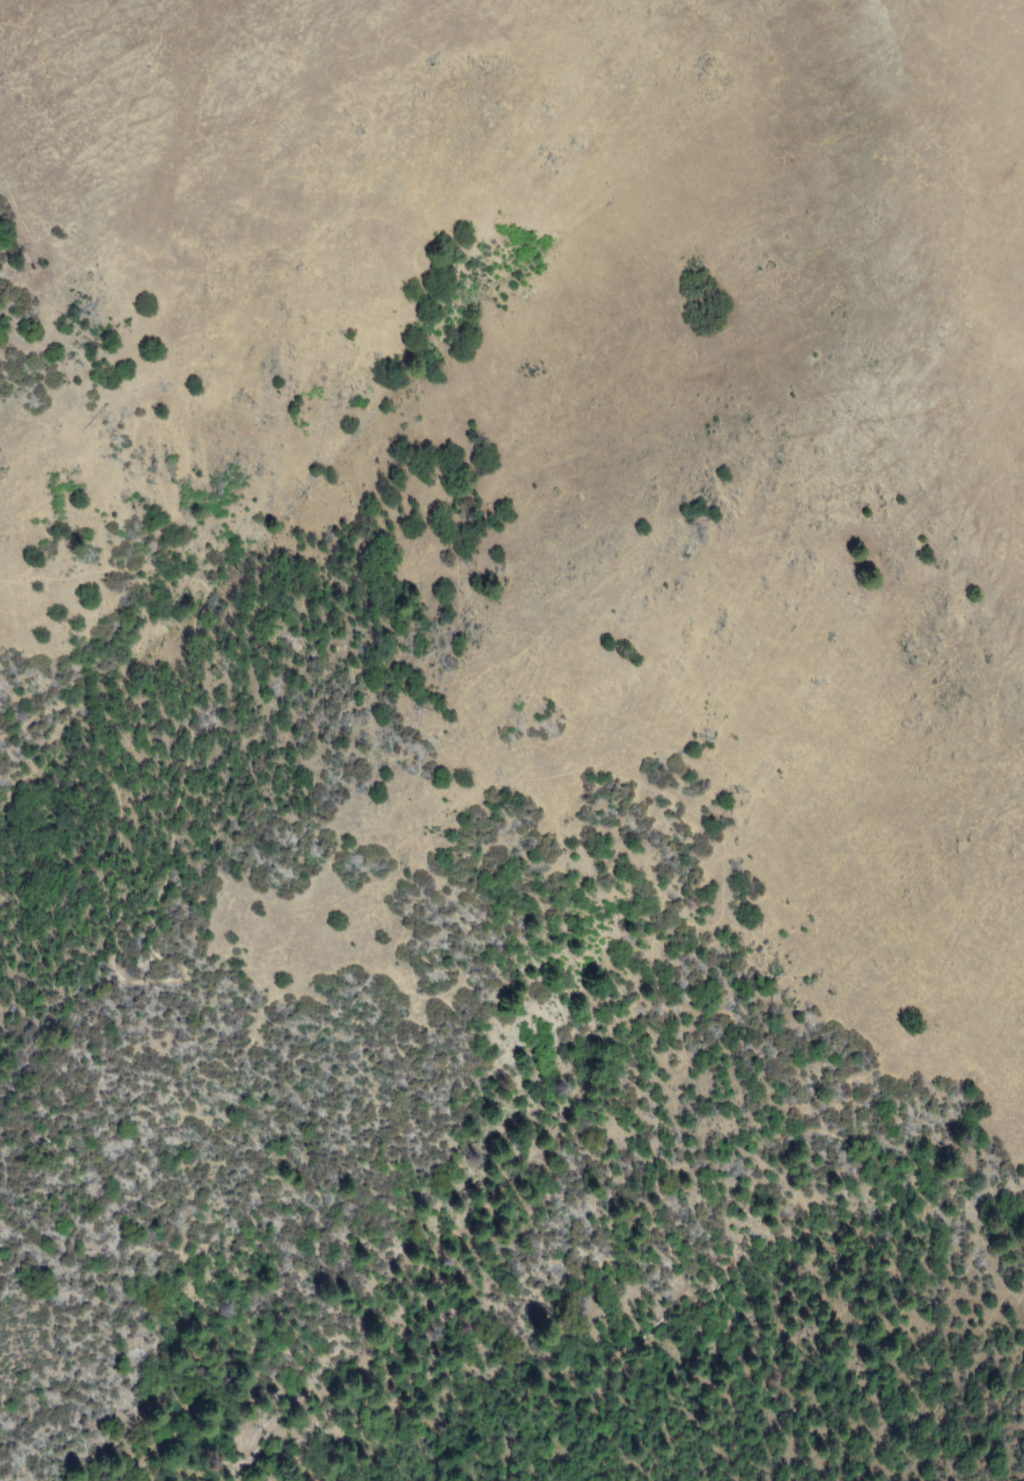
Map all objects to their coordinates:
road: (460, 608)
road: (169, 868)

